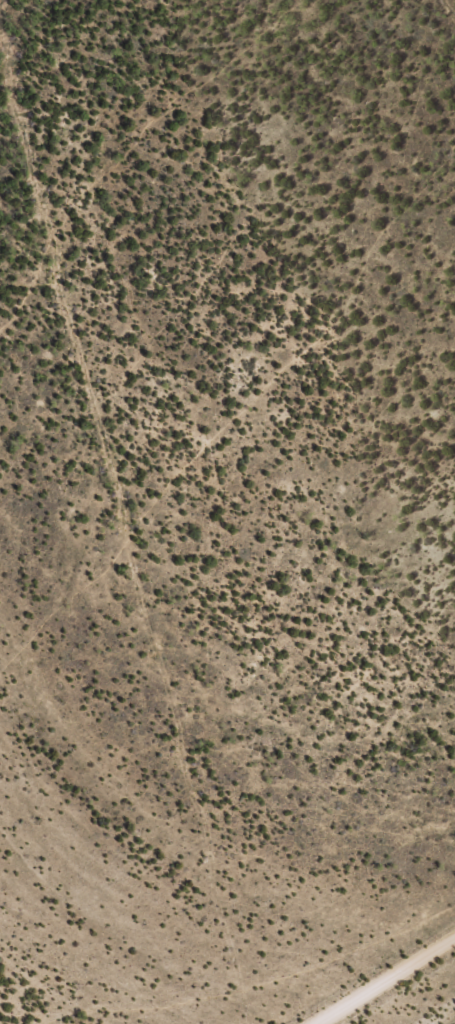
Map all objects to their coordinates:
road: (384, 981)

